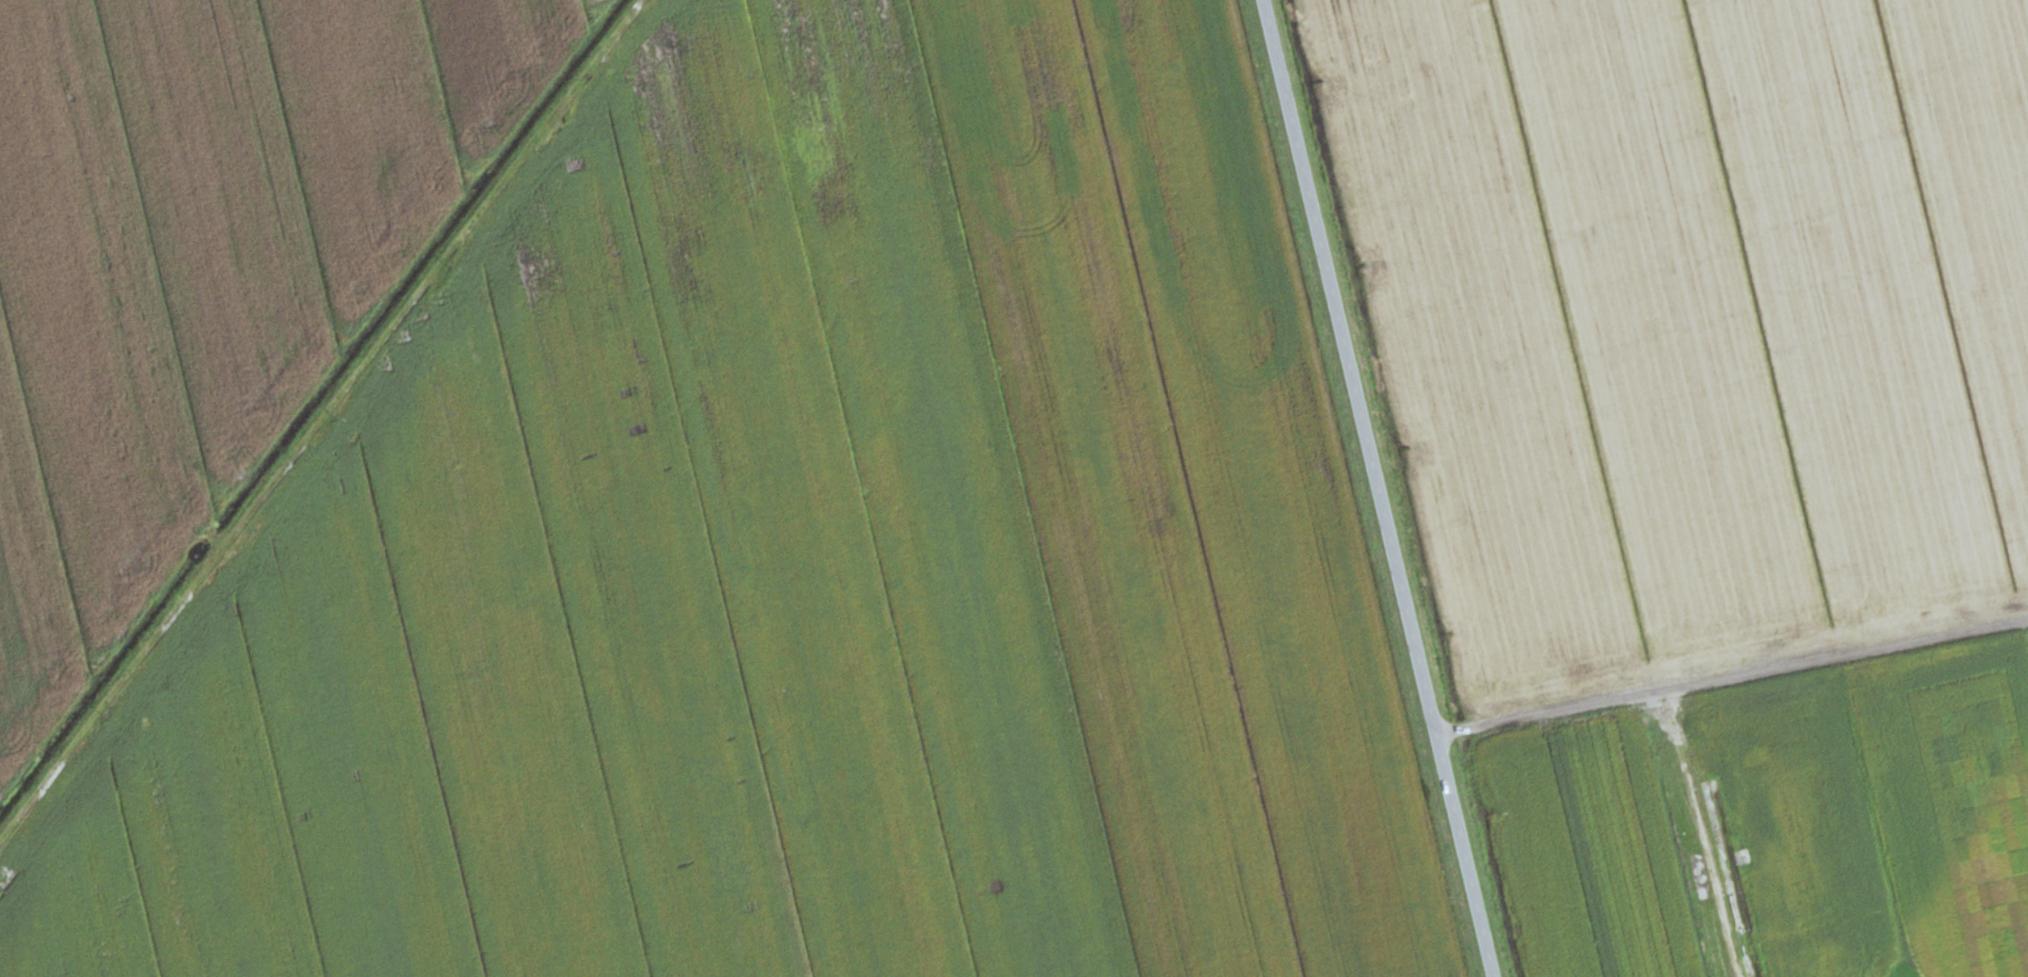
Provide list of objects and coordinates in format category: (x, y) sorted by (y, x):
crop: (202, 264)
crop: (1689, 316)
road: (318, 415)
road: (1370, 488)
crop: (796, 560)
road: (1671, 710)

